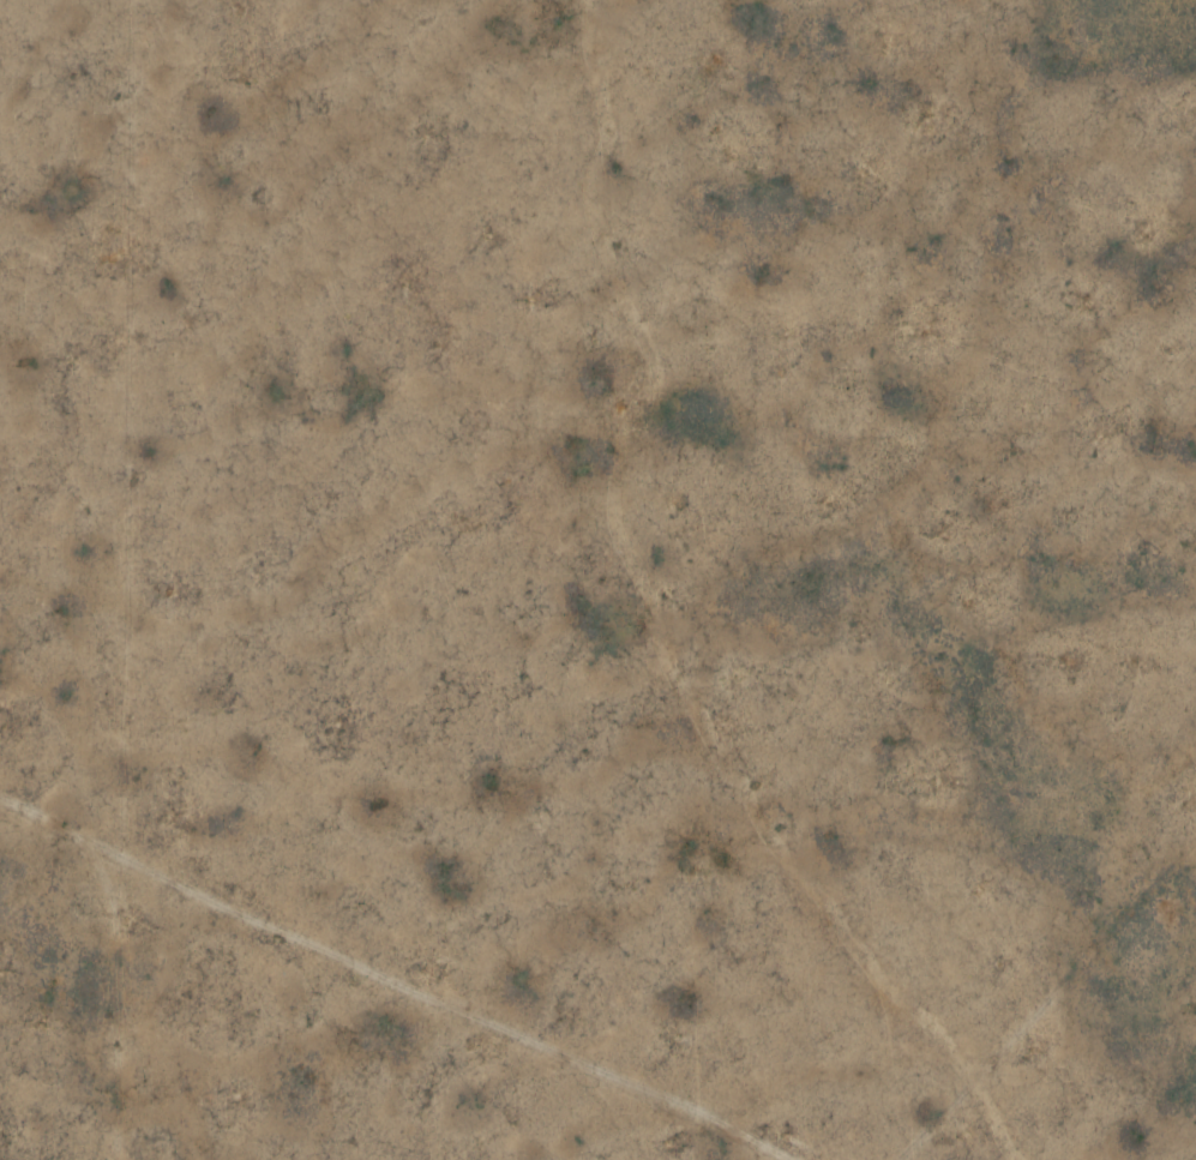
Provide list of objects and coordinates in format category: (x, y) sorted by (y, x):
road: (125, 579)
road: (473, 949)

